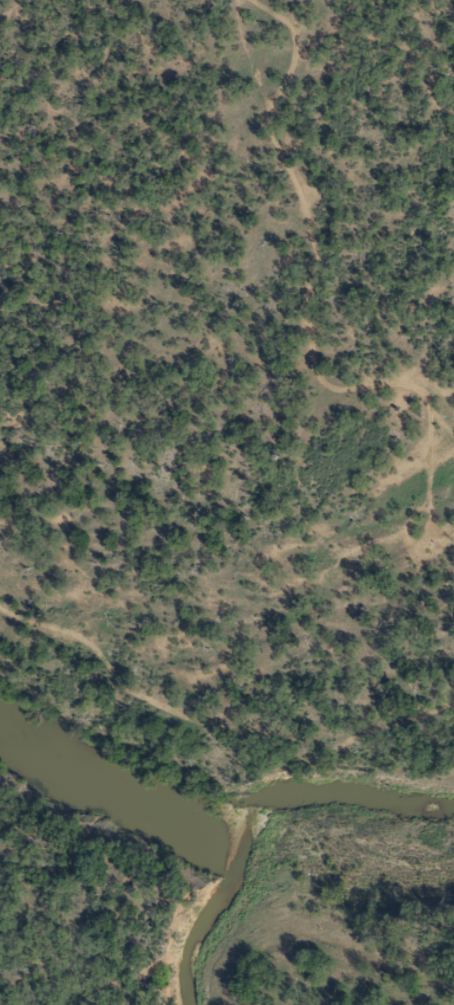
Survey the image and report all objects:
river: (216, 819)

